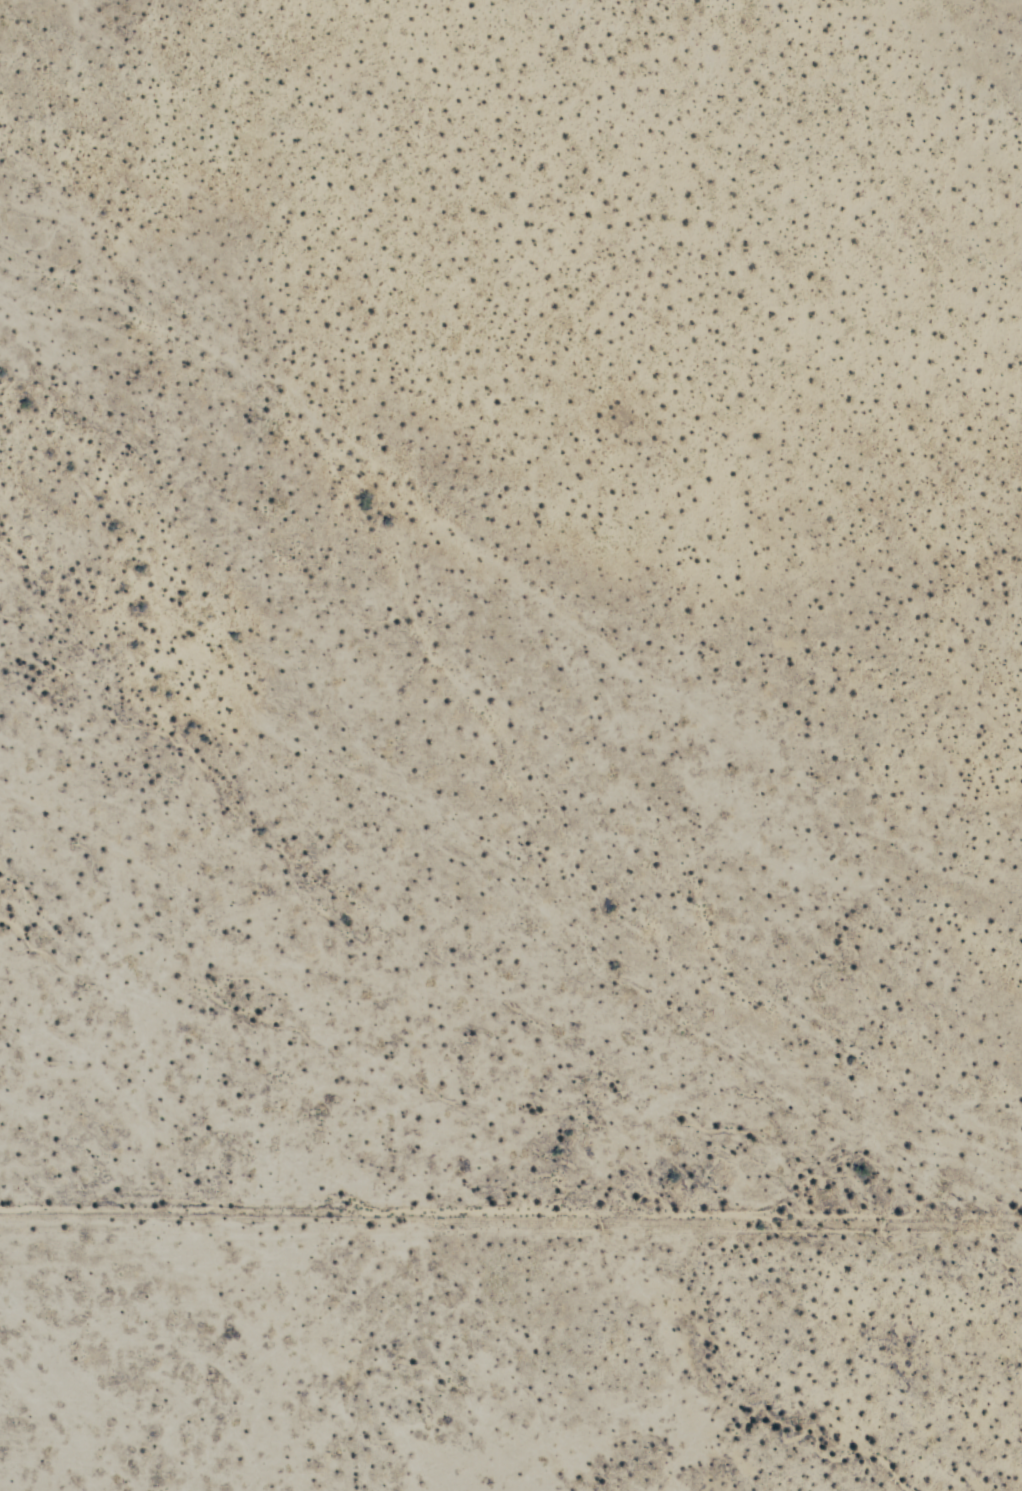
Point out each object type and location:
road: (511, 1216)

